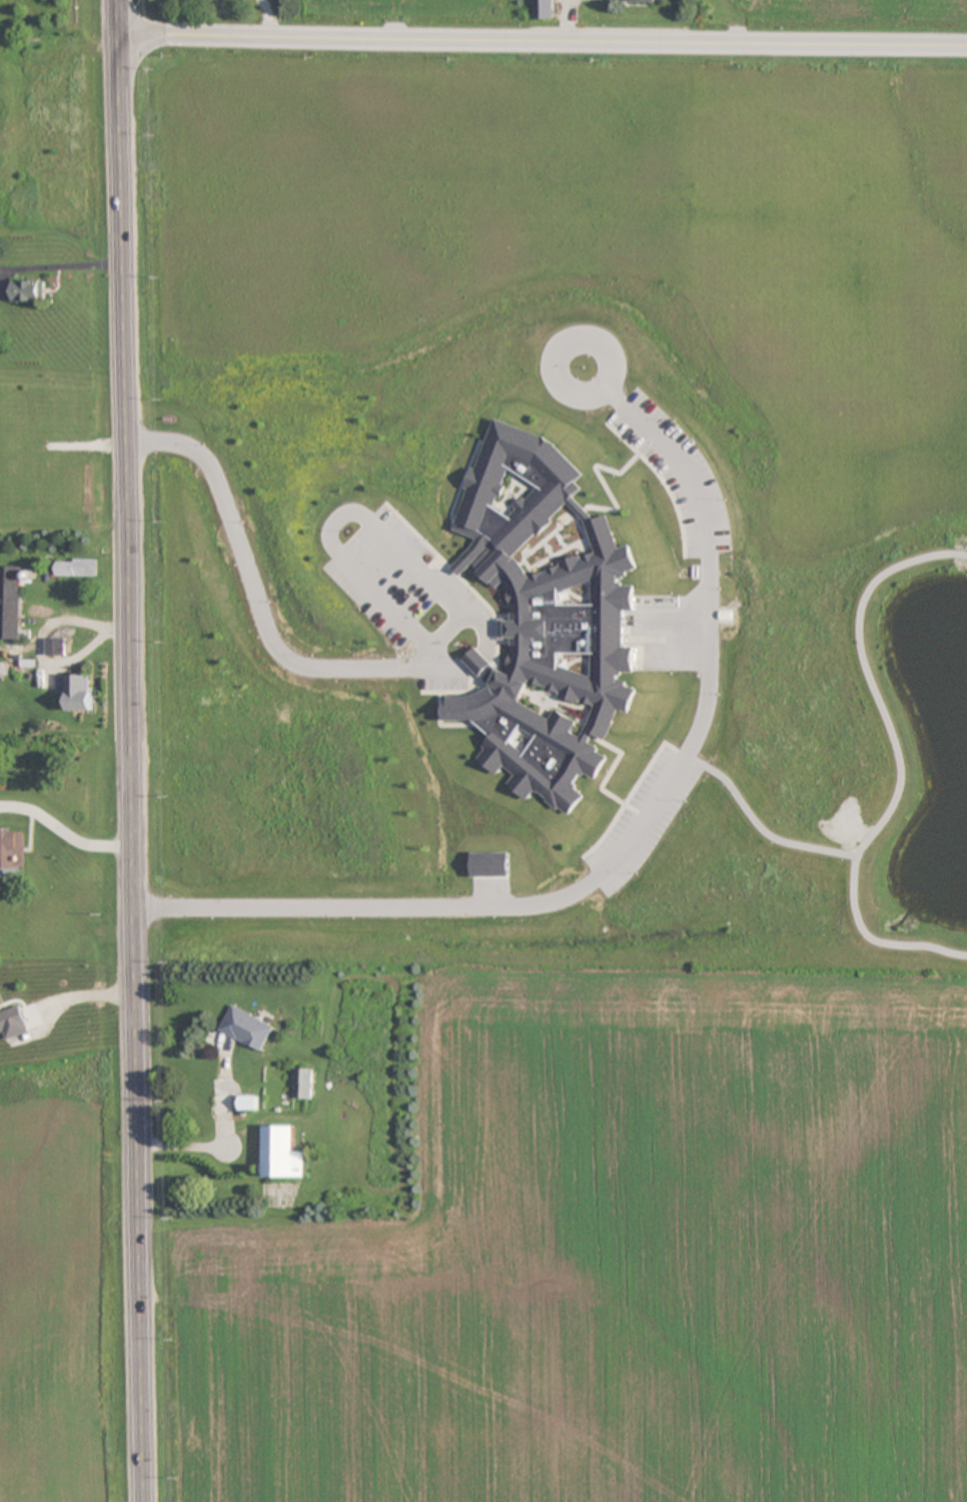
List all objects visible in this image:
building: (644, 1)
building: (542, 9)
road: (542, 43)
building: (27, 290)
building: (495, 466)
building: (74, 567)
parking lot: (414, 576)
building: (63, 588)
building: (11, 603)
road: (374, 670)
building: (560, 679)
building: (77, 692)
road: (133, 750)
road: (681, 767)
building: (11, 848)
road: (83, 993)
building: (302, 1083)
building: (210, 1087)
building: (248, 1103)
building: (281, 1153)
crop: (75, 1233)
crop: (606, 1262)

